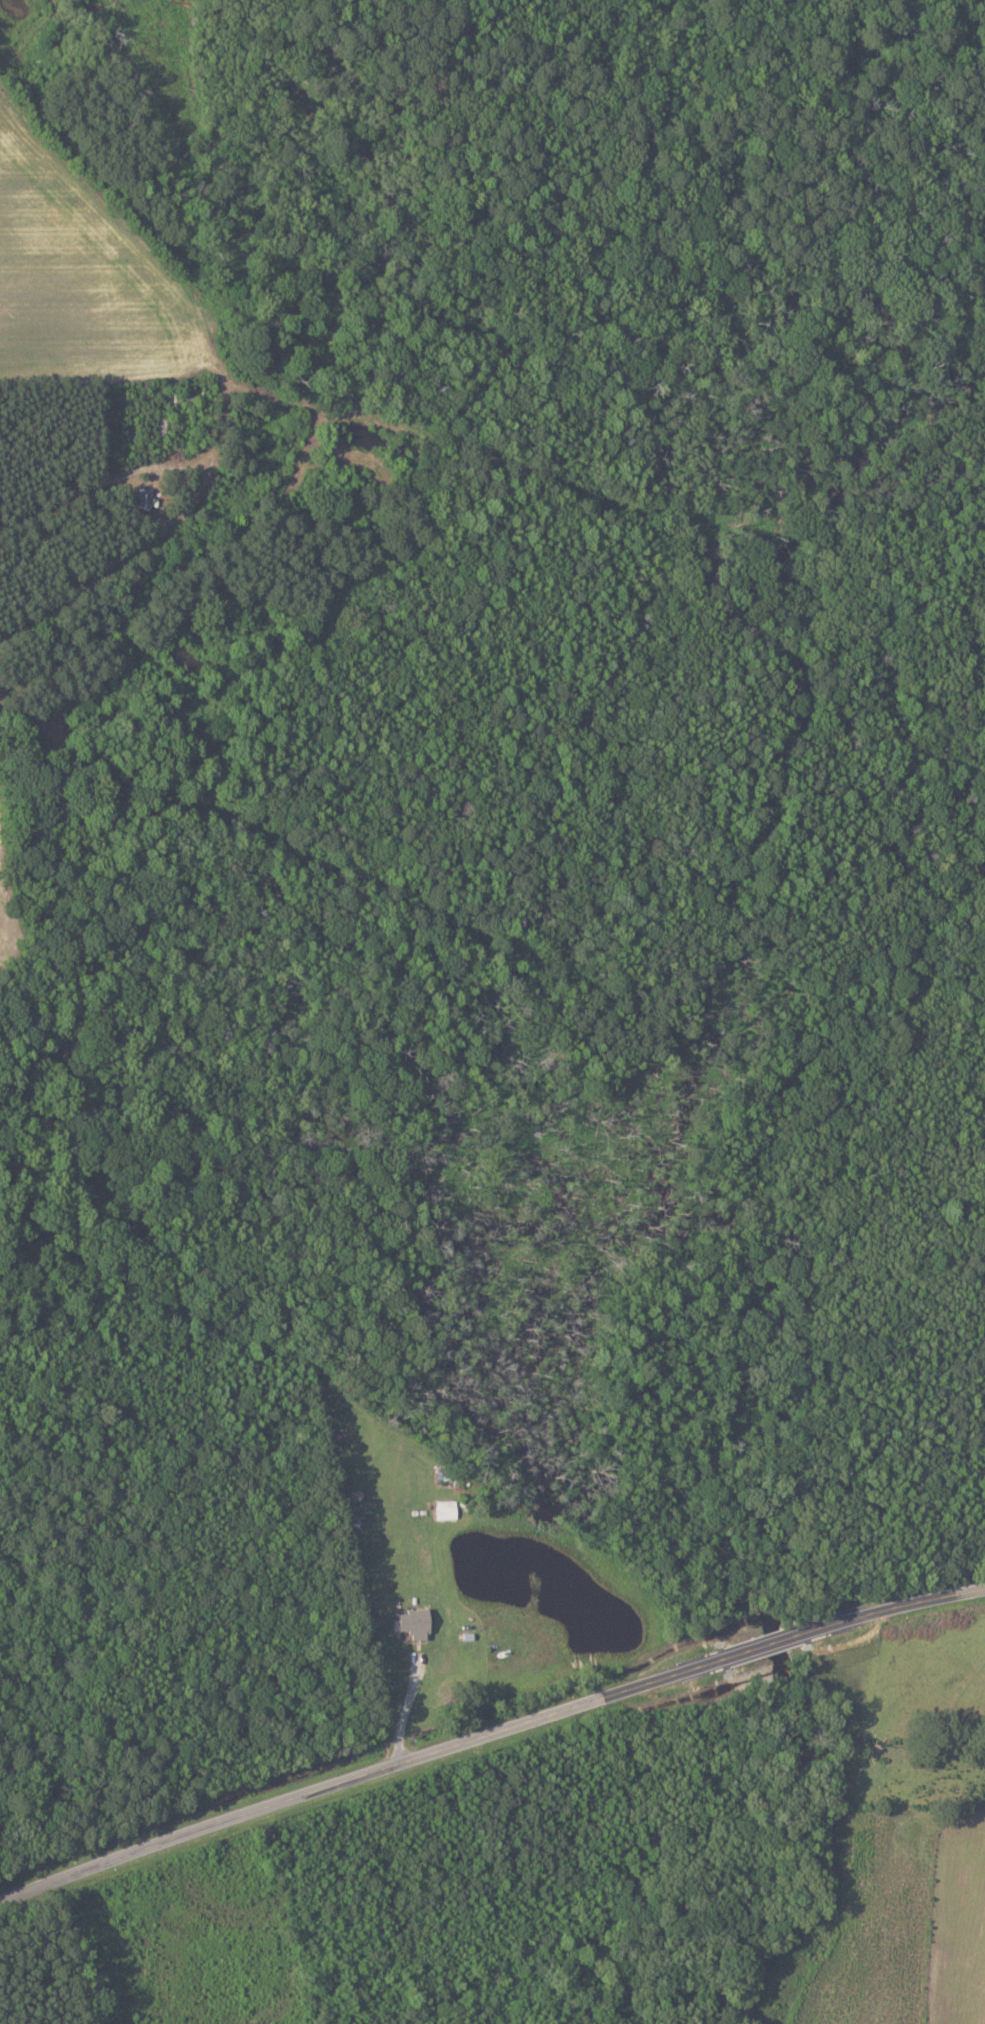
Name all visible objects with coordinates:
road: (66, 498)
building: (447, 1509)
building: (417, 1622)
road: (489, 1736)

